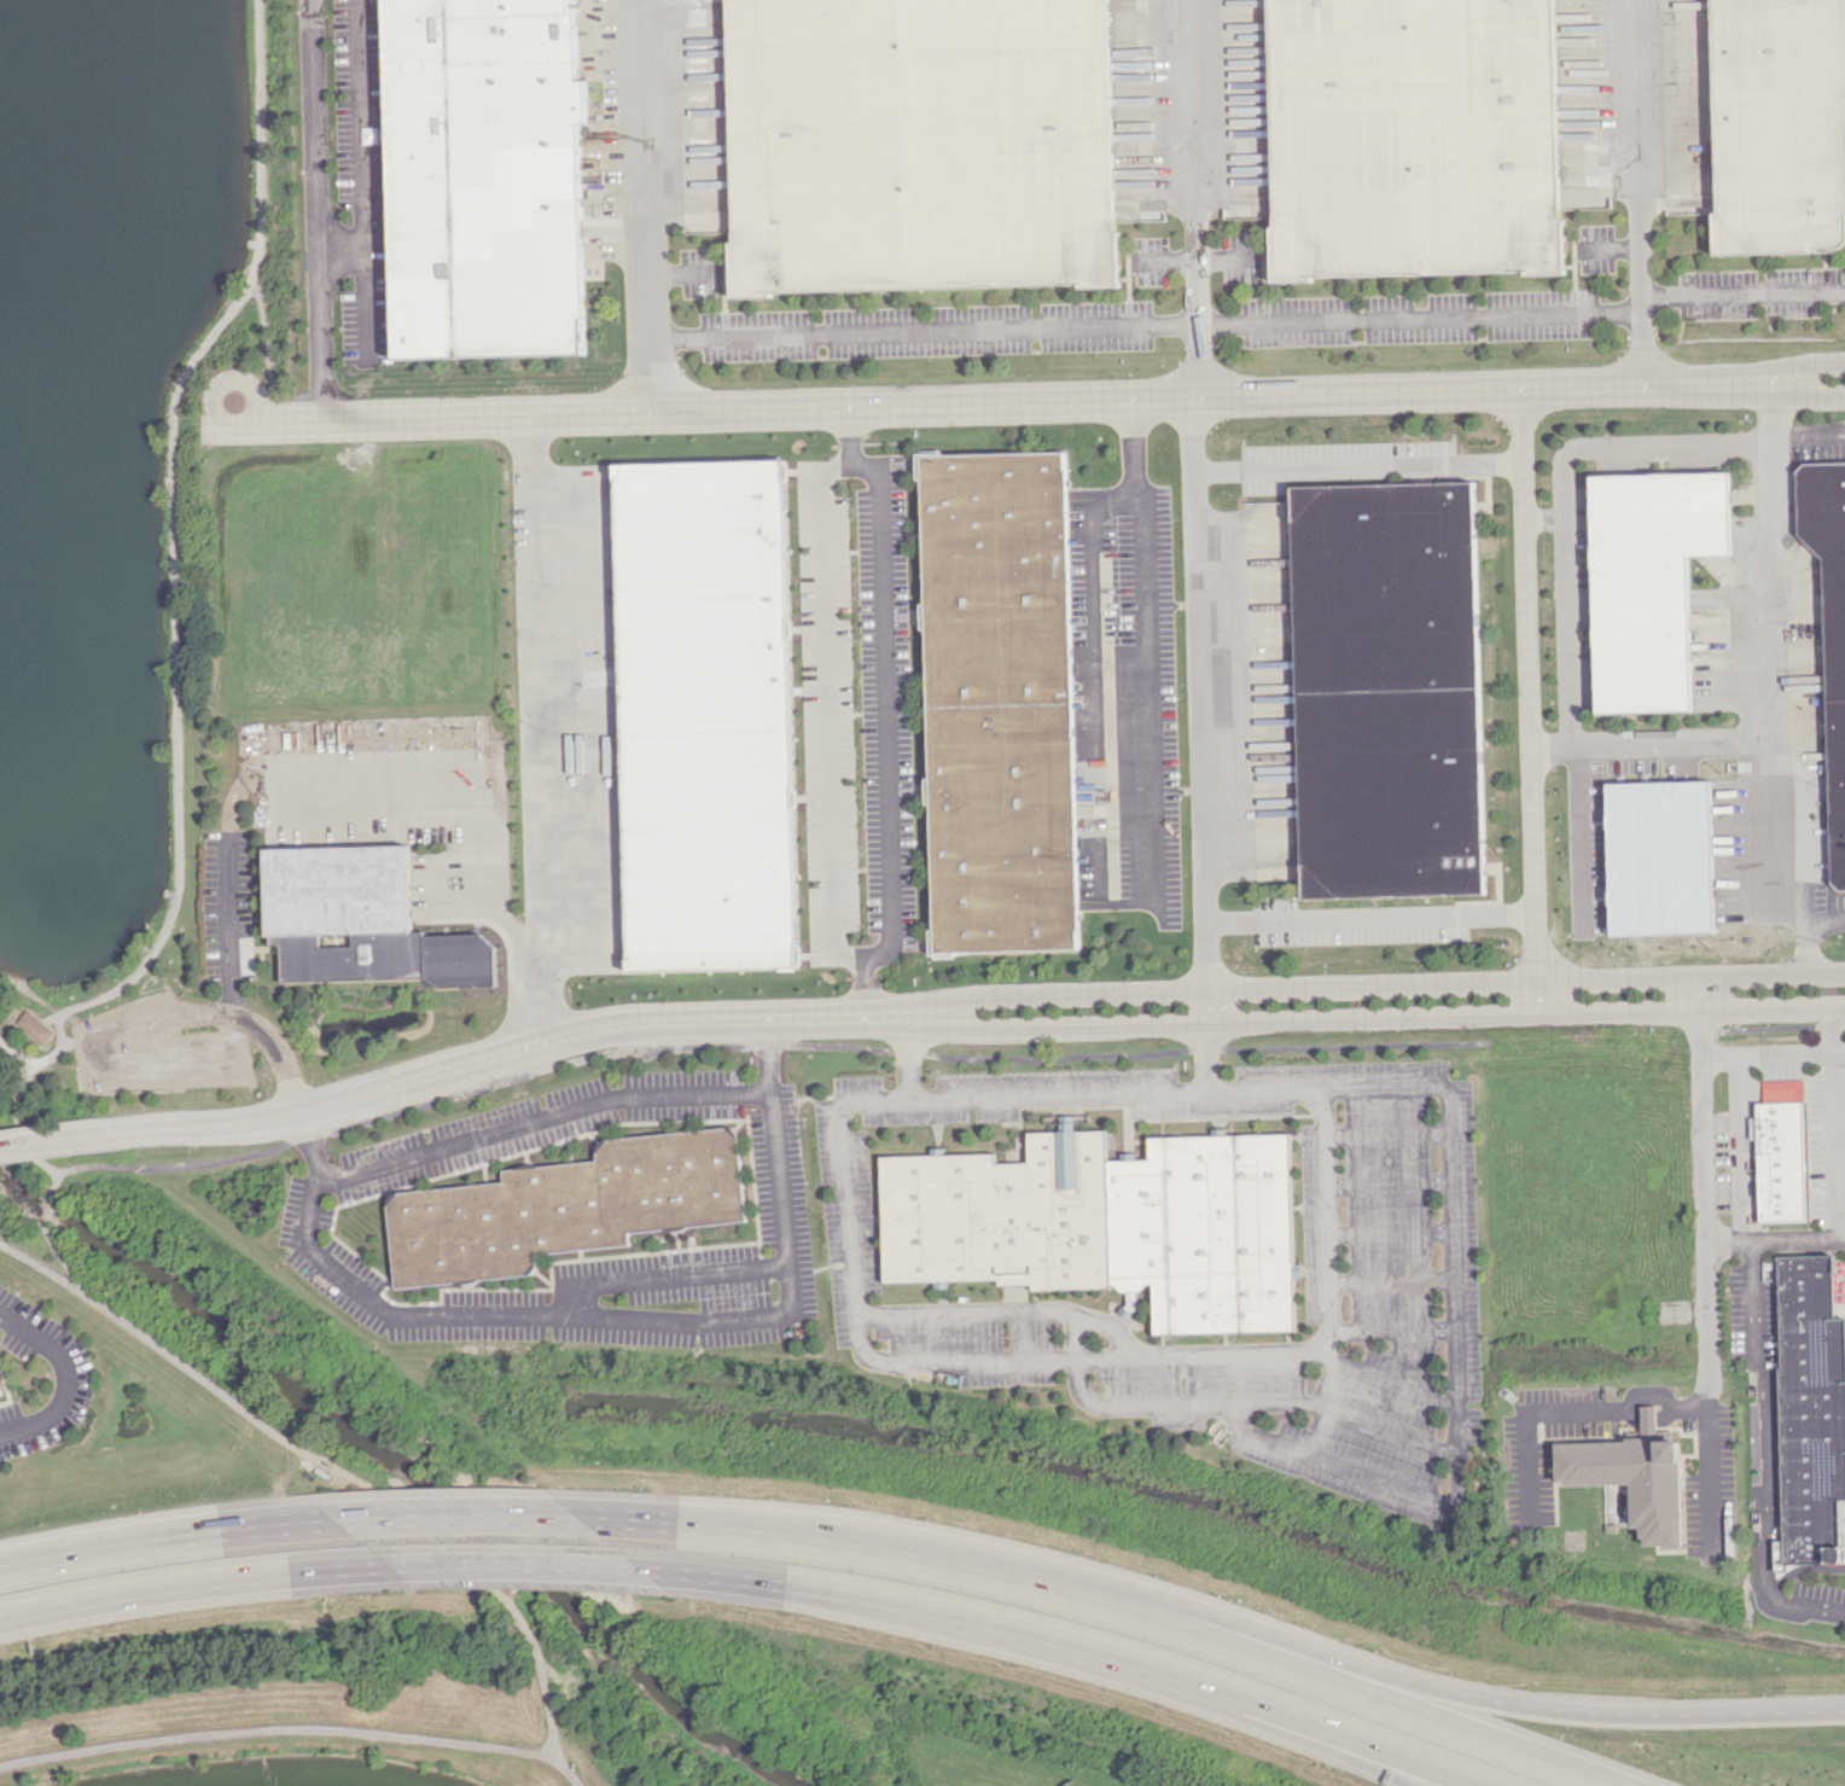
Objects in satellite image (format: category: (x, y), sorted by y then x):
building: (1779, 124)
building: (1413, 138)
road: (257, 141)
building: (920, 144)
building: (487, 178)
road: (362, 179)
road: (1637, 192)
road: (1186, 197)
road: (639, 205)
road: (318, 210)
road: (342, 252)
road: (1245, 318)
road: (270, 350)
road: (1809, 366)
road: (249, 385)
road: (1809, 391)
road: (1013, 400)
road: (848, 429)
road: (1810, 437)
road: (1613, 447)
road: (1358, 465)
building: (1649, 582)
building: (1829, 627)
road: (1568, 632)
road: (1140, 641)
road: (1768, 676)
road: (1529, 685)
building: (1389, 690)
road: (1201, 693)
road: (176, 702)
building: (1000, 702)
road: (883, 705)
road: (826, 711)
building: (708, 715)
road: (541, 727)
road: (465, 804)
road: (1805, 836)
building: (344, 913)
road: (1824, 914)
road: (1374, 915)
parking lot: (231, 942)
road: (1529, 982)
road: (863, 989)
road: (1707, 993)
road: (1058, 996)
road: (1540, 997)
road: (1213, 1007)
road: (834, 1012)
road: (1529, 1013)
road: (1058, 1025)
building: (35, 1026)
road: (1827, 1030)
road: (78, 1041)
road: (278, 1051)
road: (767, 1051)
road: (16, 1053)
road: (1771, 1055)
road: (187, 1057)
road: (435, 1071)
road: (1048, 1096)
road: (18, 1127)
road: (51, 1139)
road: (1832, 1146)
road: (1739, 1148)
road: (185, 1160)
building: (1786, 1162)
road: (1701, 1194)
building: (570, 1206)
road: (785, 1218)
building: (1111, 1224)
road: (43, 1266)
road: (660, 1276)
road: (66, 1378)
building: (1, 1392)
road: (1648, 1407)
building: (1812, 1415)
road: (1762, 1455)
road: (310, 1456)
road: (1712, 1471)
building: (1637, 1482)
road: (461, 1518)
road: (683, 1526)
road: (169, 1540)
road: (517, 1564)
road: (938, 1564)
road: (759, 1581)
road: (194, 1583)
road: (1046, 1635)
road: (1358, 1689)
road: (1461, 1693)
road: (277, 1730)
road: (1350, 1735)
road: (1313, 1736)
road: (566, 1773)

